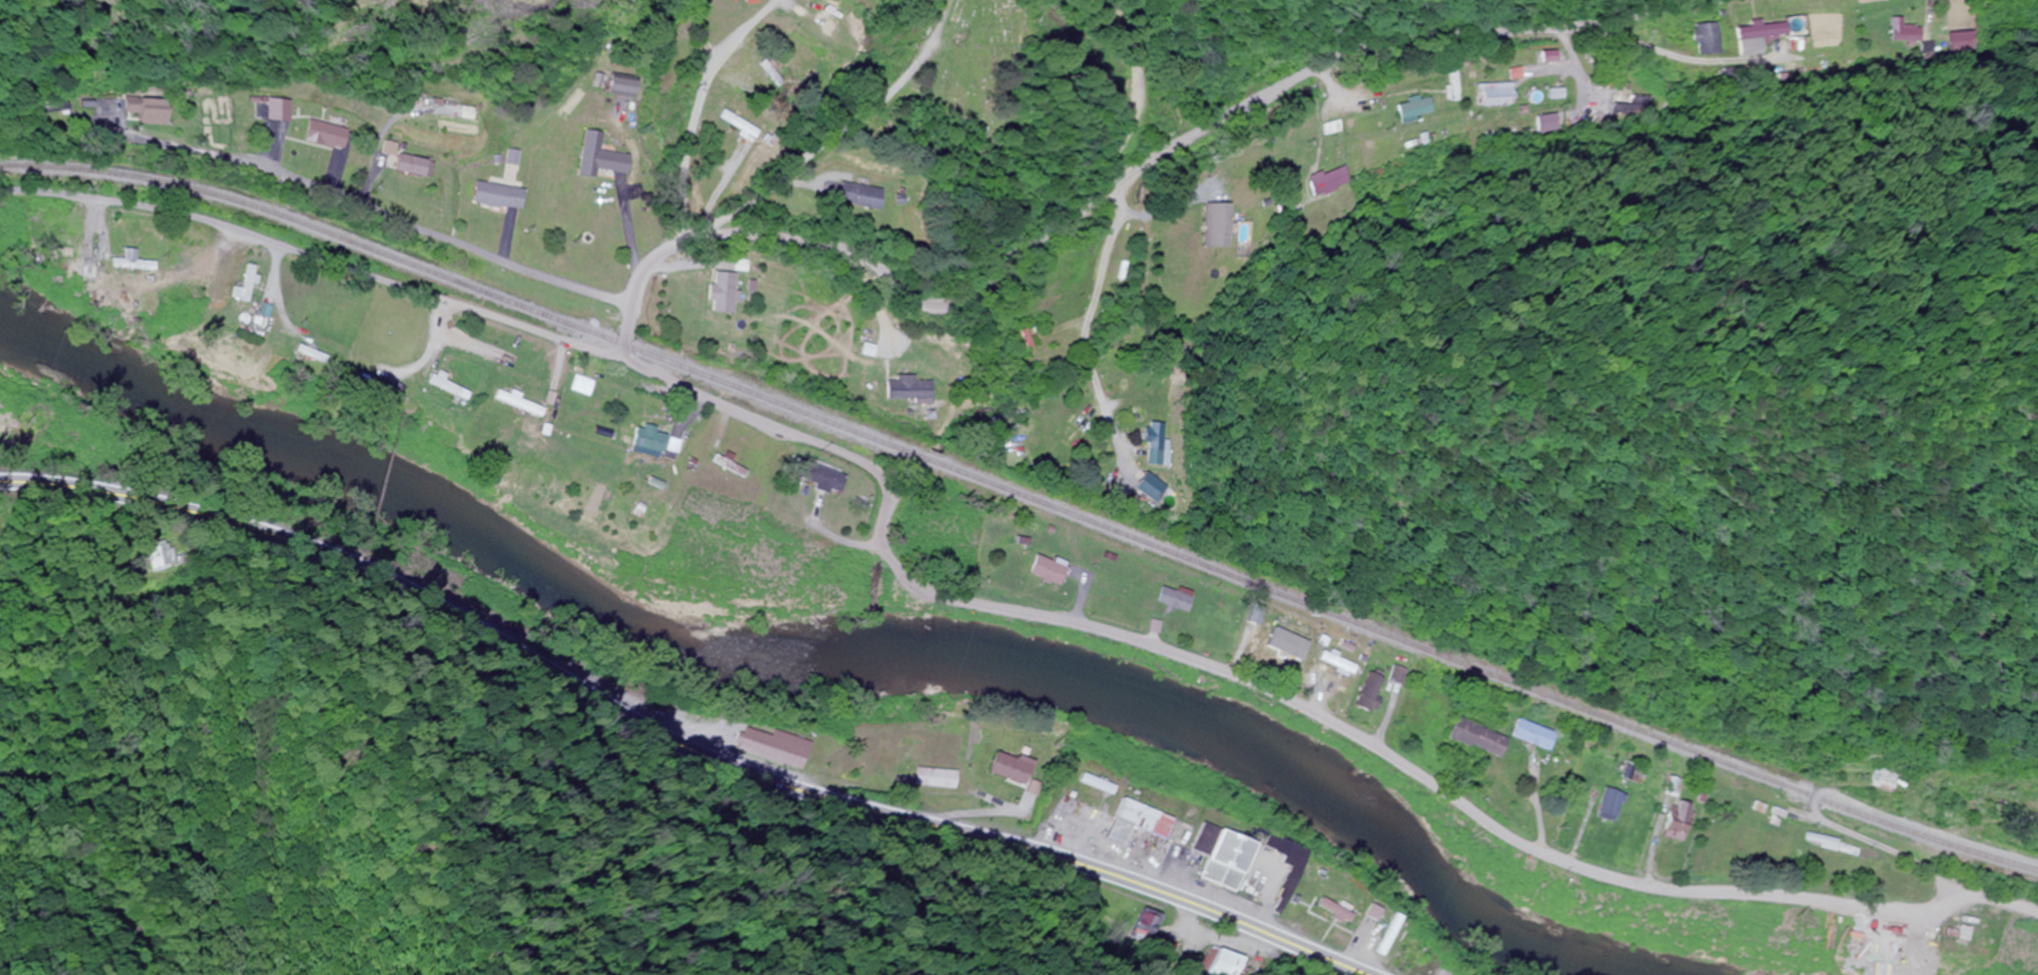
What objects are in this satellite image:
building: (826, 15)
building: (1757, 37)
building: (1707, 40)
building: (1513, 74)
park: (976, 79)
building: (1452, 82)
building: (1493, 95)
building: (125, 108)
building: (1412, 109)
building: (271, 110)
road: (701, 112)
building: (739, 126)
building: (1328, 128)
building: (320, 135)
building: (596, 157)
building: (513, 158)
building: (410, 166)
building: (1331, 182)
road: (1109, 193)
building: (497, 196)
building: (854, 196)
road: (369, 206)
building: (1215, 225)
building: (126, 262)
road: (691, 266)
building: (73, 272)
building: (244, 285)
building: (722, 293)
building: (1020, 341)
building: (909, 390)
building: (647, 441)
building: (1158, 445)
building: (813, 478)
railway: (1023, 497)
building: (166, 557)
building: (1040, 571)
building: (1171, 599)
road: (976, 607)
building: (1334, 663)
river: (794, 676)
building: (1395, 677)
road: (678, 733)
building: (1530, 736)
building: (1472, 738)
building: (1004, 770)
building: (932, 779)
building: (1882, 780)
building: (1604, 806)
building: (2037, 818)
building: (1126, 823)
building: (1670, 824)
building: (1214, 858)
building: (1324, 912)
road: (1927, 932)
building: (1150, 937)
building: (1403, 958)
road: (1921, 964)
building: (1226, 965)

